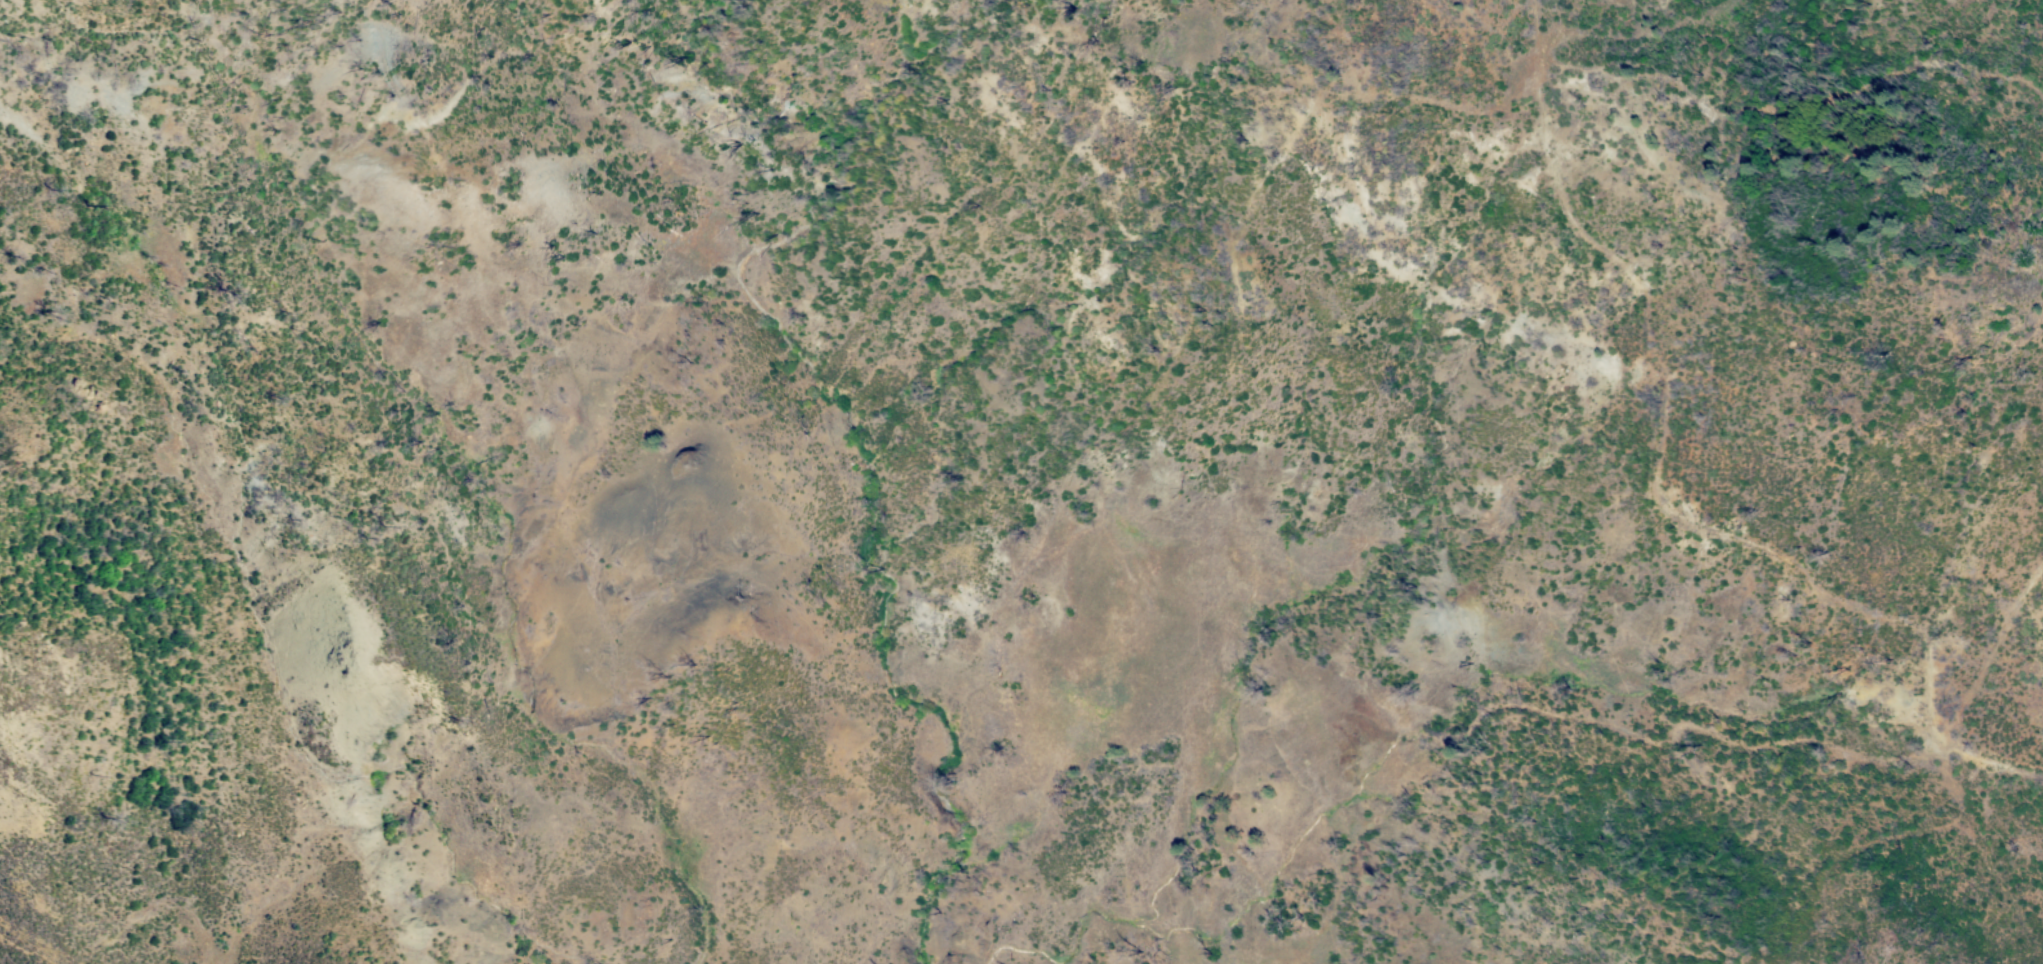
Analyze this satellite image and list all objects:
road: (1660, 485)
road: (1670, 728)
road: (158, 909)
road: (27, 947)

